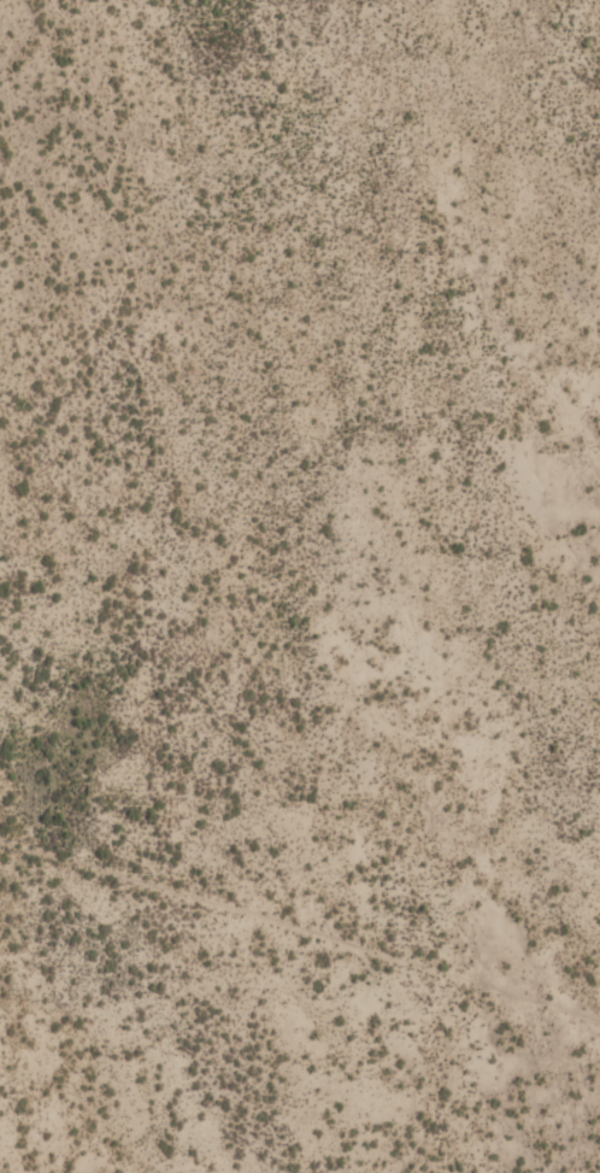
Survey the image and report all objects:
road: (300, 926)

